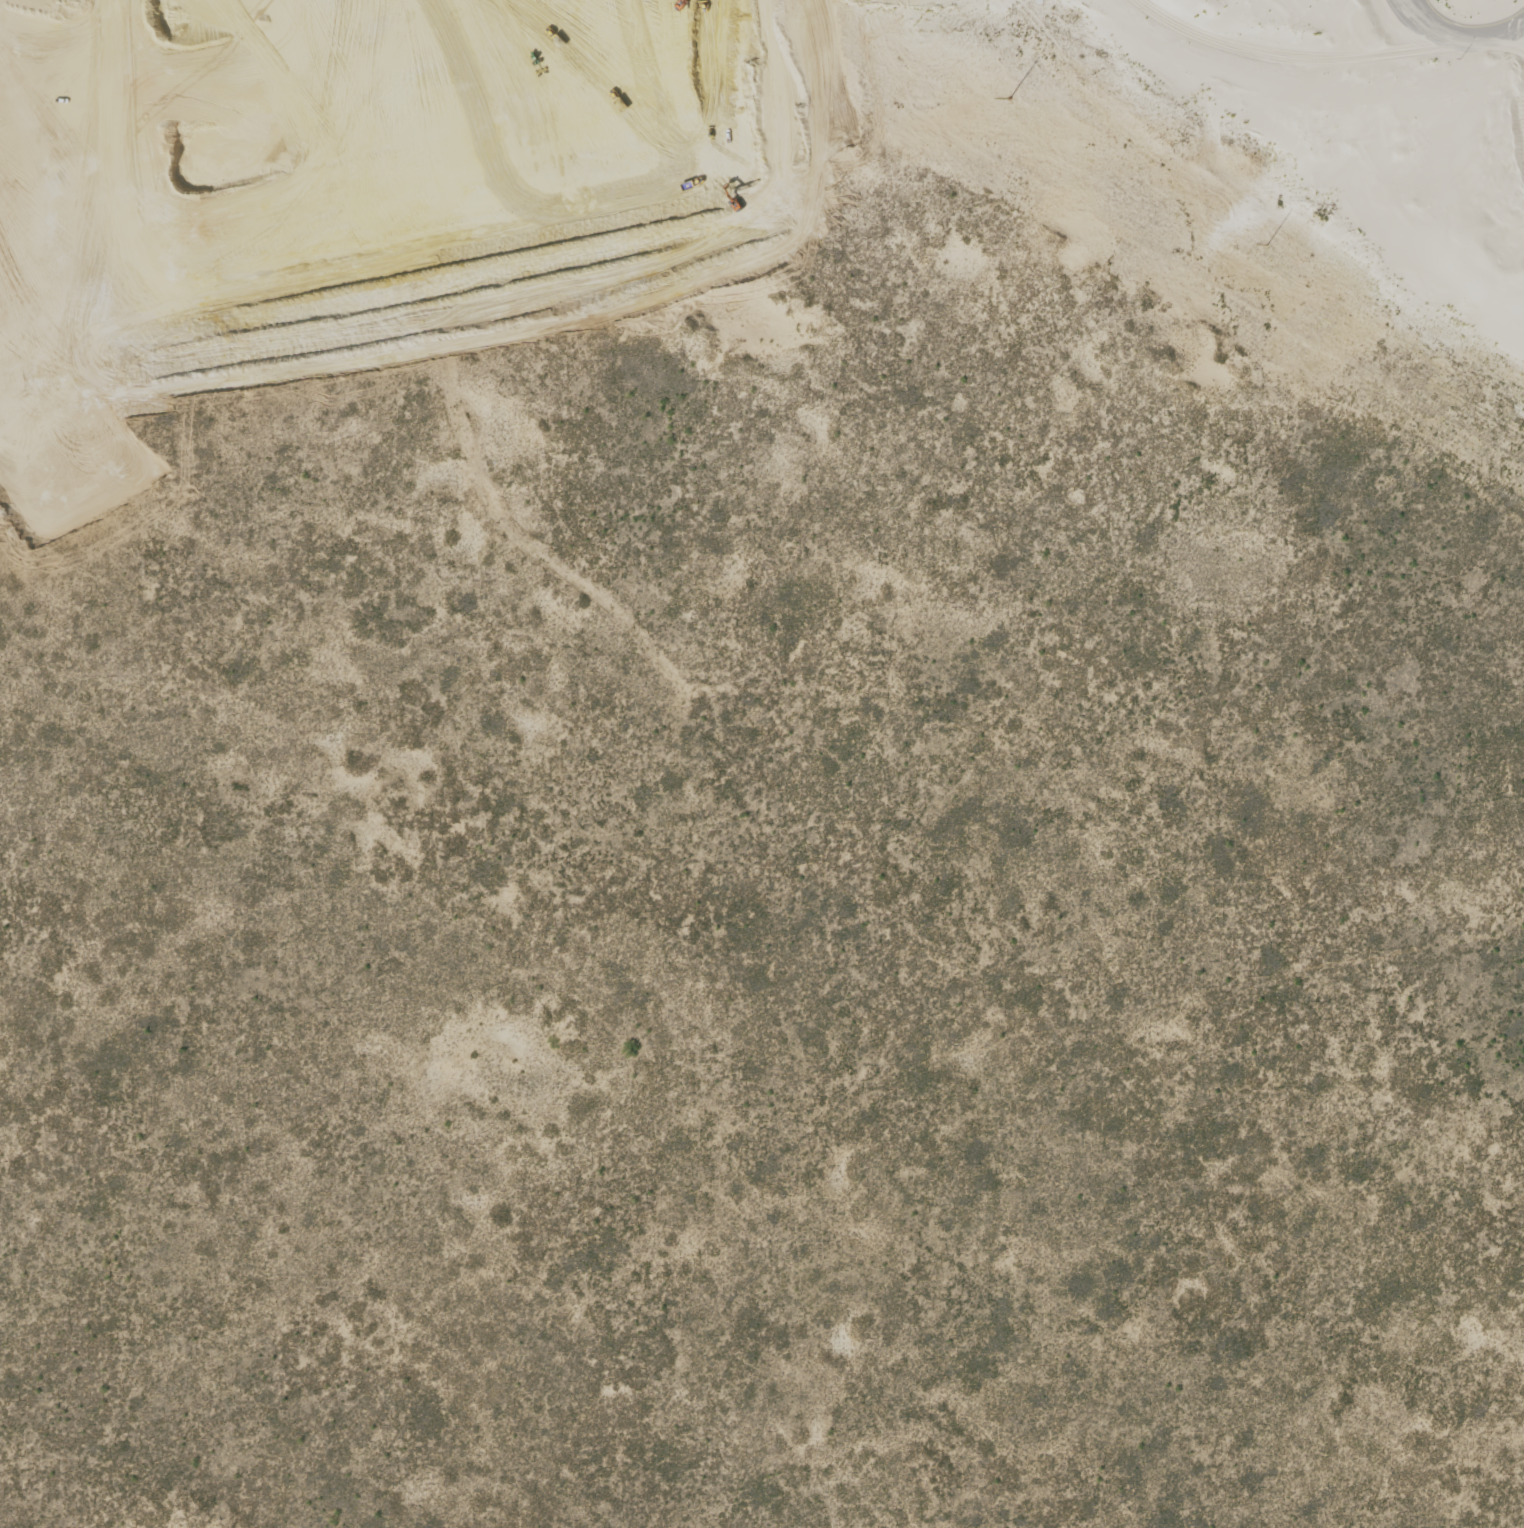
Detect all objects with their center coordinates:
road: (1, 0)
power tower: (1008, 98)
power tower: (1266, 246)

